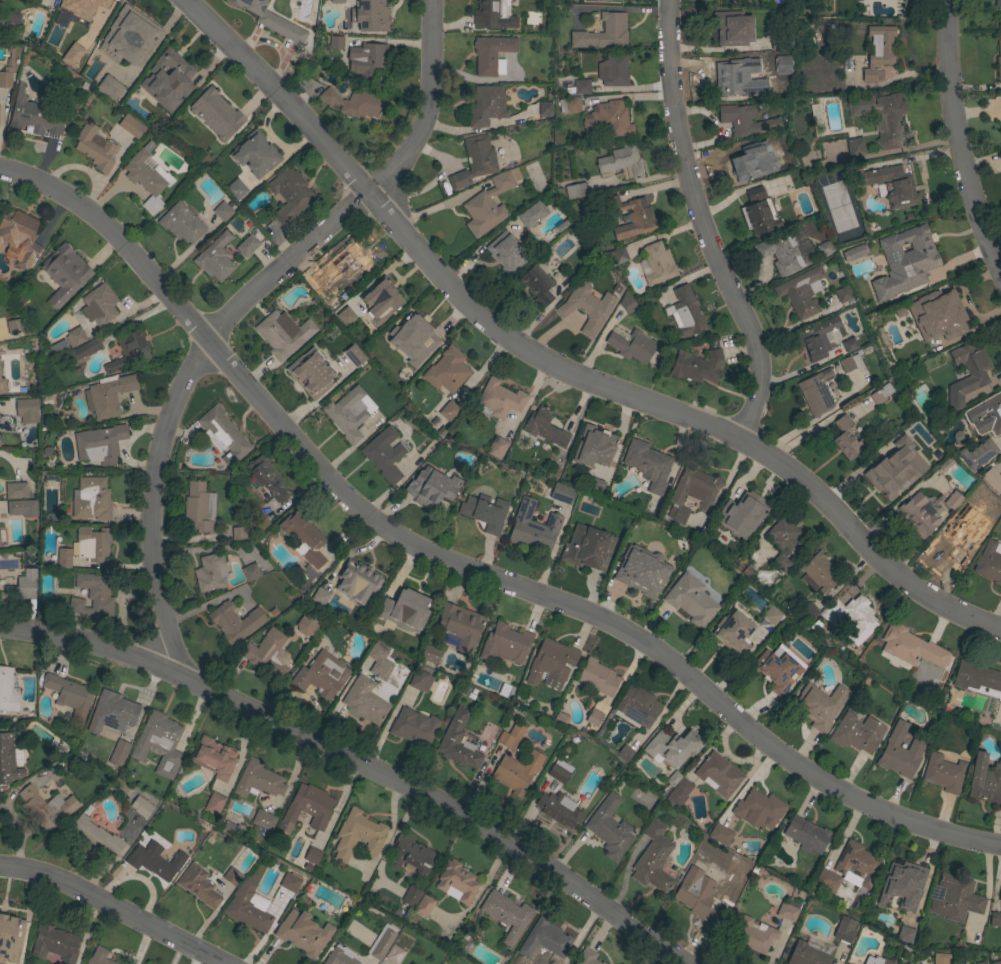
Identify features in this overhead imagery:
building: (337, 1)
building: (614, 1)
building: (998, 4)
building: (83, 7)
building: (492, 15)
building: (370, 16)
building: (11, 19)
building: (273, 20)
building: (733, 28)
building: (603, 33)
building: (129, 37)
building: (783, 42)
building: (336, 43)
building: (879, 51)
building: (491, 53)
building: (70, 56)
building: (999, 58)
building: (371, 61)
building: (783, 65)
building: (613, 70)
building: (6, 77)
building: (164, 78)
building: (731, 78)
building: (110, 87)
building: (578, 87)
building: (1000, 97)
building: (354, 103)
building: (570, 105)
building: (486, 106)
building: (545, 108)
building: (216, 114)
building: (32, 117)
building: (745, 120)
building: (607, 121)
building: (888, 121)
building: (131, 126)
road: (957, 141)
building: (855, 147)
building: (95, 148)
building: (255, 154)
building: (622, 160)
building: (475, 161)
building: (754, 165)
building: (147, 177)
building: (797, 180)
building: (888, 185)
building: (234, 190)
building: (575, 190)
building: (289, 195)
building: (489, 203)
building: (222, 211)
building: (759, 212)
building: (532, 214)
building: (632, 216)
building: (181, 223)
road: (702, 225)
building: (19, 236)
building: (247, 246)
building: (823, 248)
building: (924, 250)
building: (785, 251)
building: (507, 253)
building: (852, 254)
building: (619, 255)
building: (215, 258)
building: (656, 264)
building: (340, 266)
building: (64, 274)
building: (537, 285)
building: (906, 286)
building: (801, 292)
building: (844, 295)
building: (377, 302)
building: (628, 303)
building: (99, 304)
building: (588, 307)
road: (239, 312)
building: (687, 312)
building: (938, 315)
building: (343, 317)
building: (414, 331)
building: (283, 334)
building: (75, 336)
building: (816, 338)
building: (849, 344)
building: (632, 346)
building: (59, 349)
building: (128, 350)
building: (83, 352)
building: (697, 366)
road: (552, 369)
building: (447, 370)
building: (311, 377)
building: (975, 378)
building: (825, 385)
building: (3, 388)
building: (880, 394)
building: (108, 396)
building: (499, 399)
building: (27, 410)
building: (449, 410)
building: (350, 413)
building: (987, 413)
building: (544, 427)
building: (223, 434)
building: (907, 434)
building: (847, 438)
building: (100, 444)
building: (593, 446)
building: (497, 447)
building: (384, 453)
building: (978, 453)
building: (648, 465)
building: (602, 474)
building: (267, 478)
building: (882, 479)
building: (992, 479)
building: (432, 484)
building: (593, 486)
building: (16, 490)
building: (692, 492)
building: (564, 494)
building: (92, 499)
building: (953, 500)
building: (199, 507)
building: (22, 508)
building: (484, 512)
building: (742, 514)
building: (919, 514)
building: (260, 521)
building: (533, 527)
building: (238, 533)
building: (962, 536)
building: (304, 537)
building: (93, 543)
building: (784, 543)
building: (588, 547)
building: (64, 558)
building: (989, 563)
road: (461, 564)
building: (642, 571)
building: (250, 572)
building: (210, 573)
building: (818, 574)
building: (359, 578)
building: (21, 586)
building: (93, 595)
building: (317, 597)
building: (691, 600)
building: (410, 606)
building: (807, 612)
building: (827, 614)
building: (772, 618)
building: (855, 620)
building: (235, 621)
building: (307, 624)
building: (371, 625)
building: (460, 627)
building: (730, 634)
building: (511, 642)
building: (911, 647)
building: (267, 654)
building: (429, 654)
building: (379, 661)
building: (551, 662)
building: (773, 670)
building: (322, 675)
building: (598, 677)
building: (976, 677)
building: (420, 680)
building: (8, 691)
building: (69, 694)
building: (365, 701)
building: (821, 704)
building: (636, 708)
building: (113, 712)
building: (594, 717)
building: (561, 719)
building: (414, 726)
building: (857, 733)
building: (511, 736)
building: (458, 742)
building: (159, 743)
building: (673, 746)
building: (120, 748)
building: (900, 752)
building: (624, 754)
building: (213, 757)
building: (10, 758)
road: (358, 763)
building: (559, 771)
building: (517, 772)
building: (943, 773)
building: (719, 774)
building: (673, 778)
building: (258, 780)
building: (984, 780)
building: (679, 792)
building: (214, 804)
building: (141, 806)
building: (309, 806)
building: (46, 807)
building: (559, 809)
building: (759, 809)
building: (264, 820)
building: (228, 827)
building: (609, 827)
building: (807, 834)
building: (94, 835)
building: (358, 835)
building: (720, 835)
building: (312, 855)
building: (411, 855)
building: (653, 859)
building: (155, 860)
building: (857, 865)
building: (231, 876)
building: (907, 878)
building: (457, 880)
building: (828, 881)
building: (290, 882)
building: (198, 885)
building: (1000, 894)
building: (411, 896)
road: (476, 896)
building: (698, 897)
building: (954, 898)
building: (876, 903)
building: (424, 906)
road: (113, 907)
building: (246, 908)
building: (788, 910)
building: (506, 914)
building: (995, 919)
building: (12, 923)
building: (844, 929)
building: (303, 933)
building: (753, 935)
building: (550, 936)
building: (902, 936)
building: (54, 943)
building: (382, 944)
building: (394, 954)
building: (807, 954)
building: (99, 957)
building: (339, 957)
building: (941, 958)
building: (586, 960)
building: (876, 960)
building: (996, 962)
building: (546, 963)
building: (847, 963)

